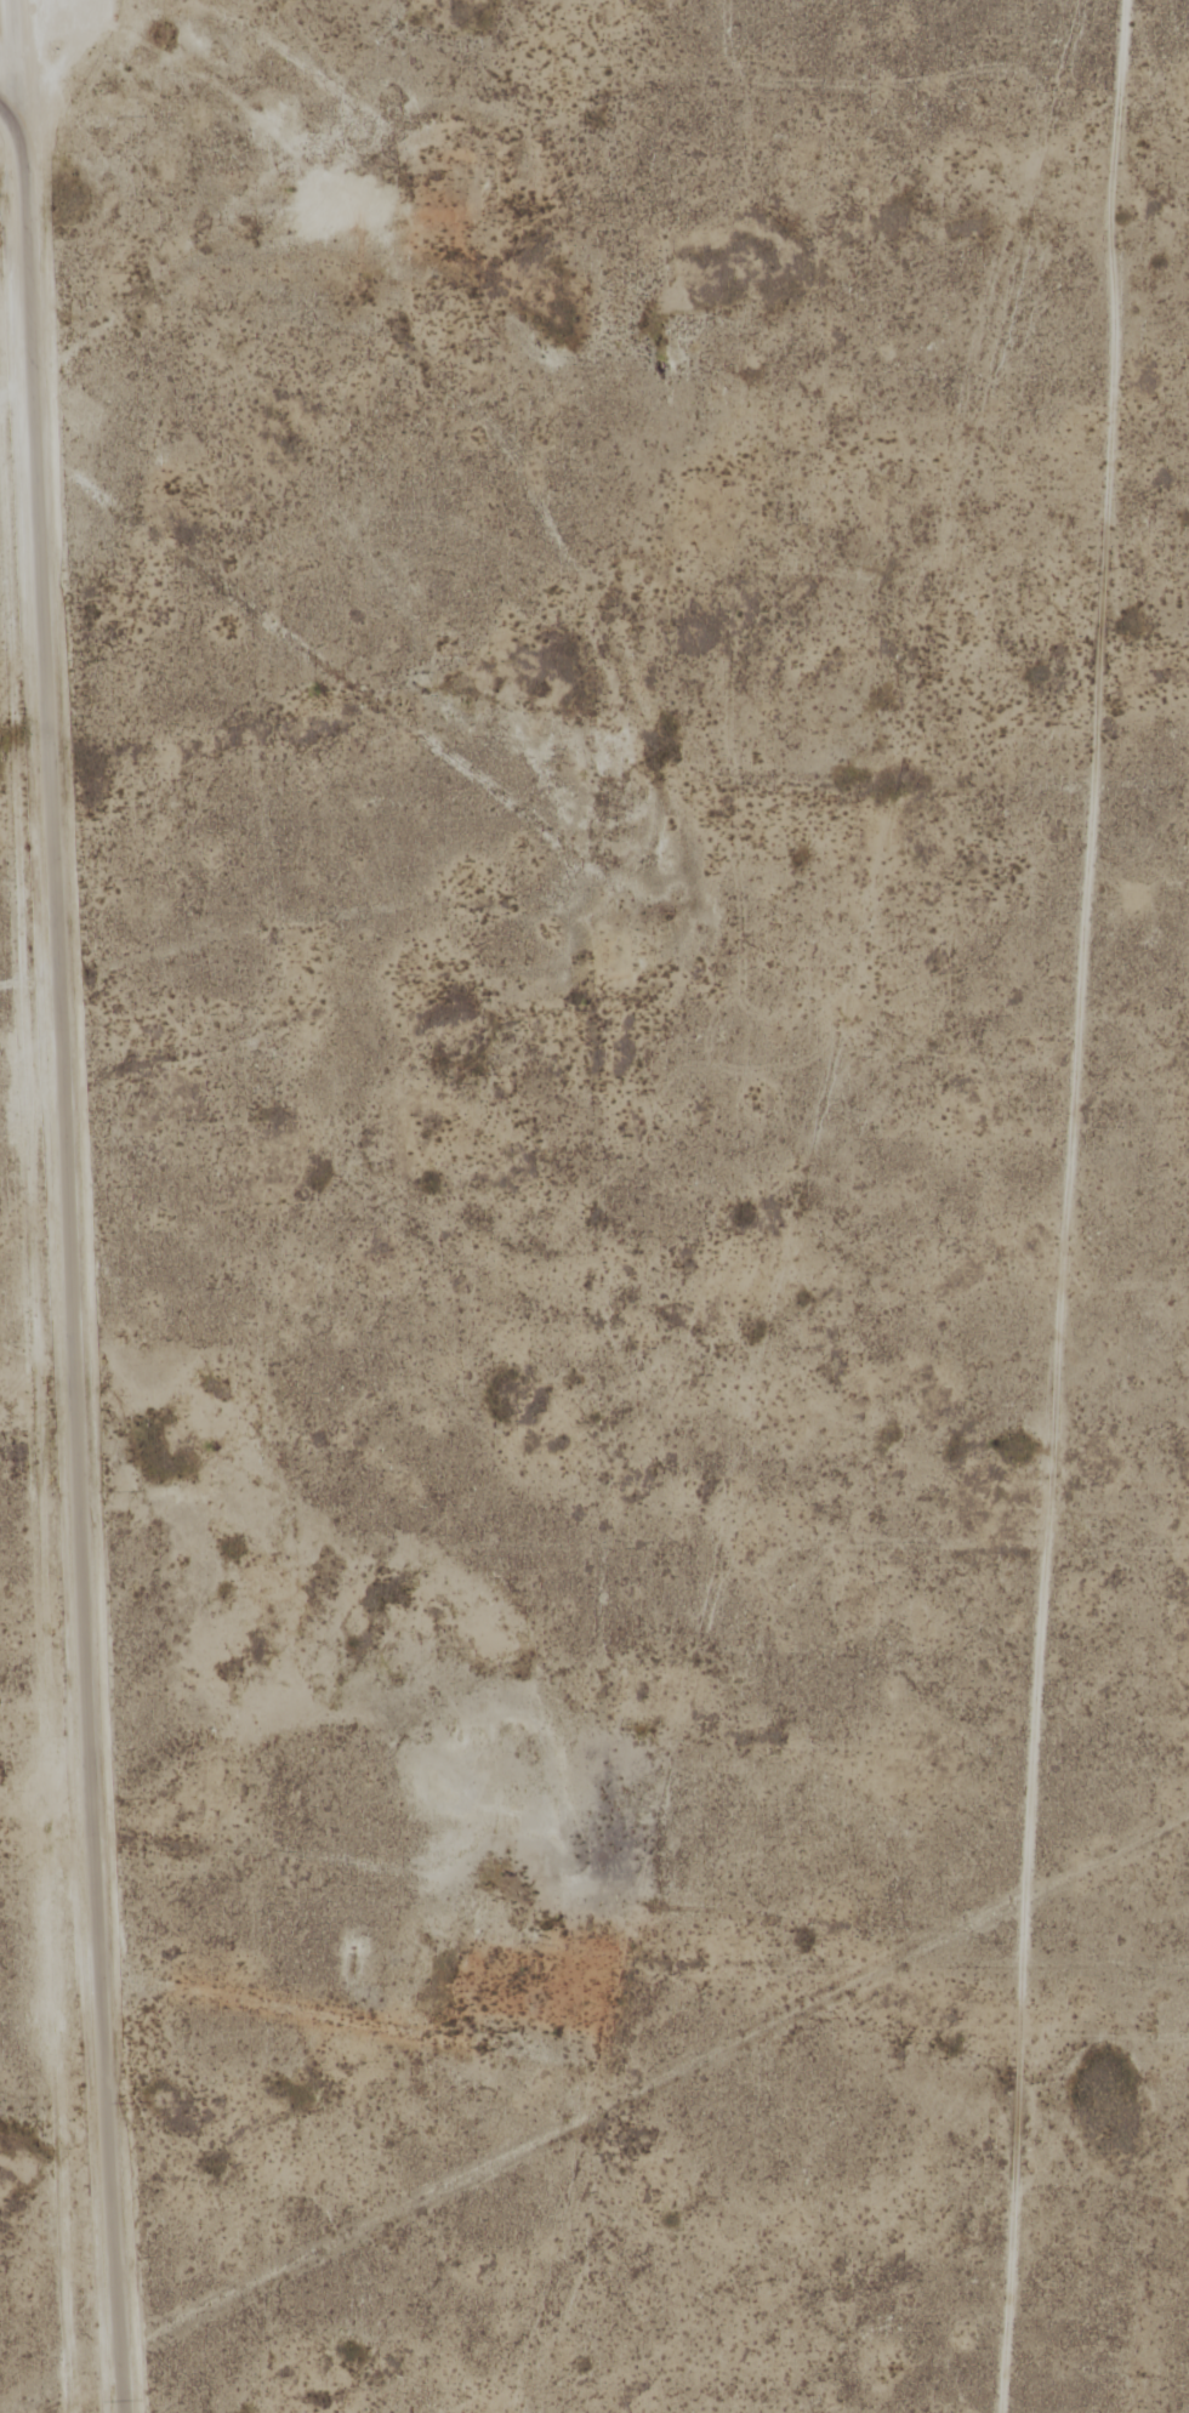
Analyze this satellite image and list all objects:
road: (6, 59)
road: (4, 115)
road: (68, 1265)

